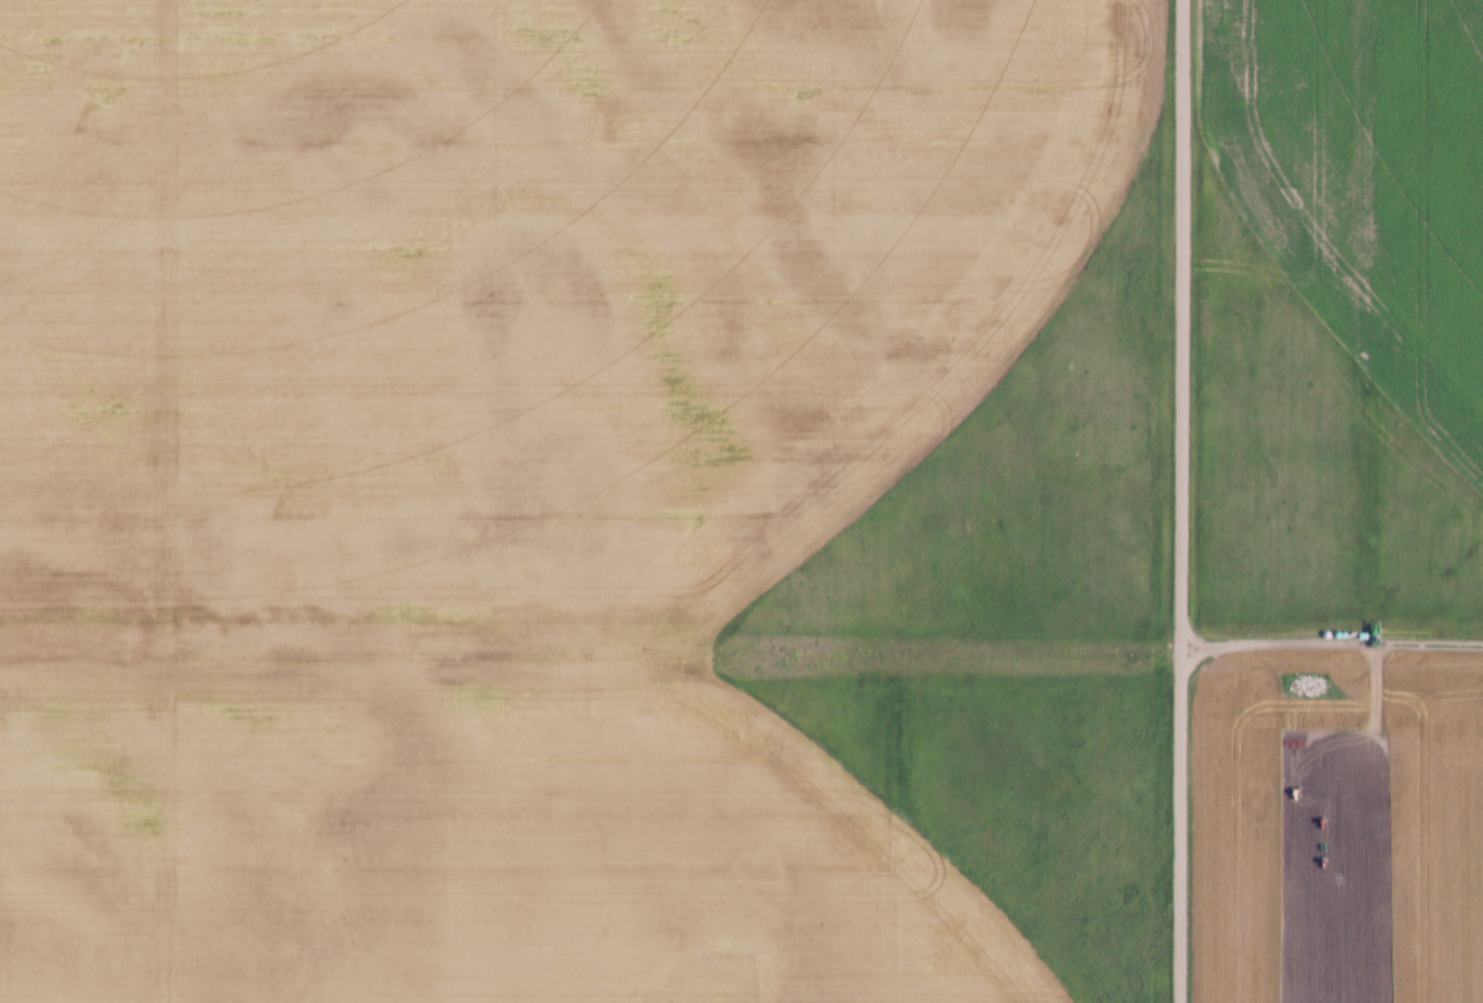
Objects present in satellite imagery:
road: (1180, 501)

